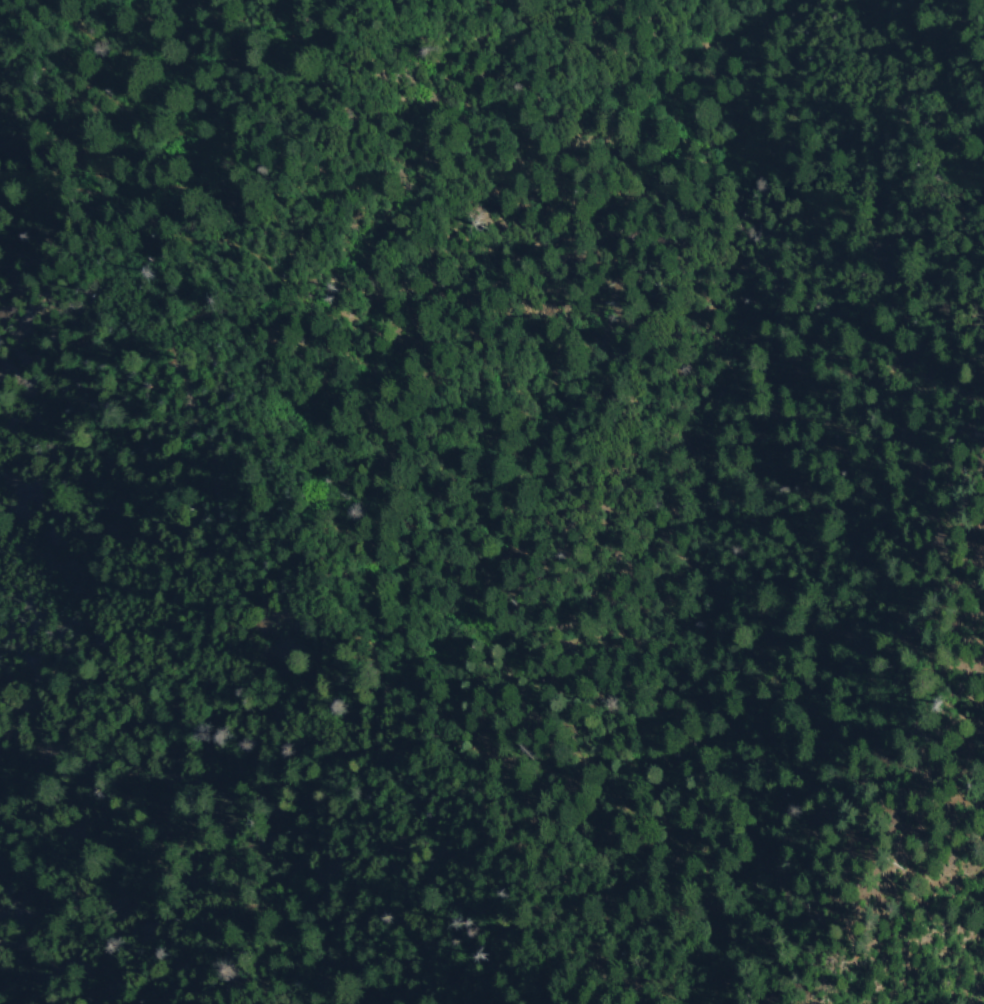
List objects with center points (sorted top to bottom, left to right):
road: (190, 61)
road: (207, 457)

